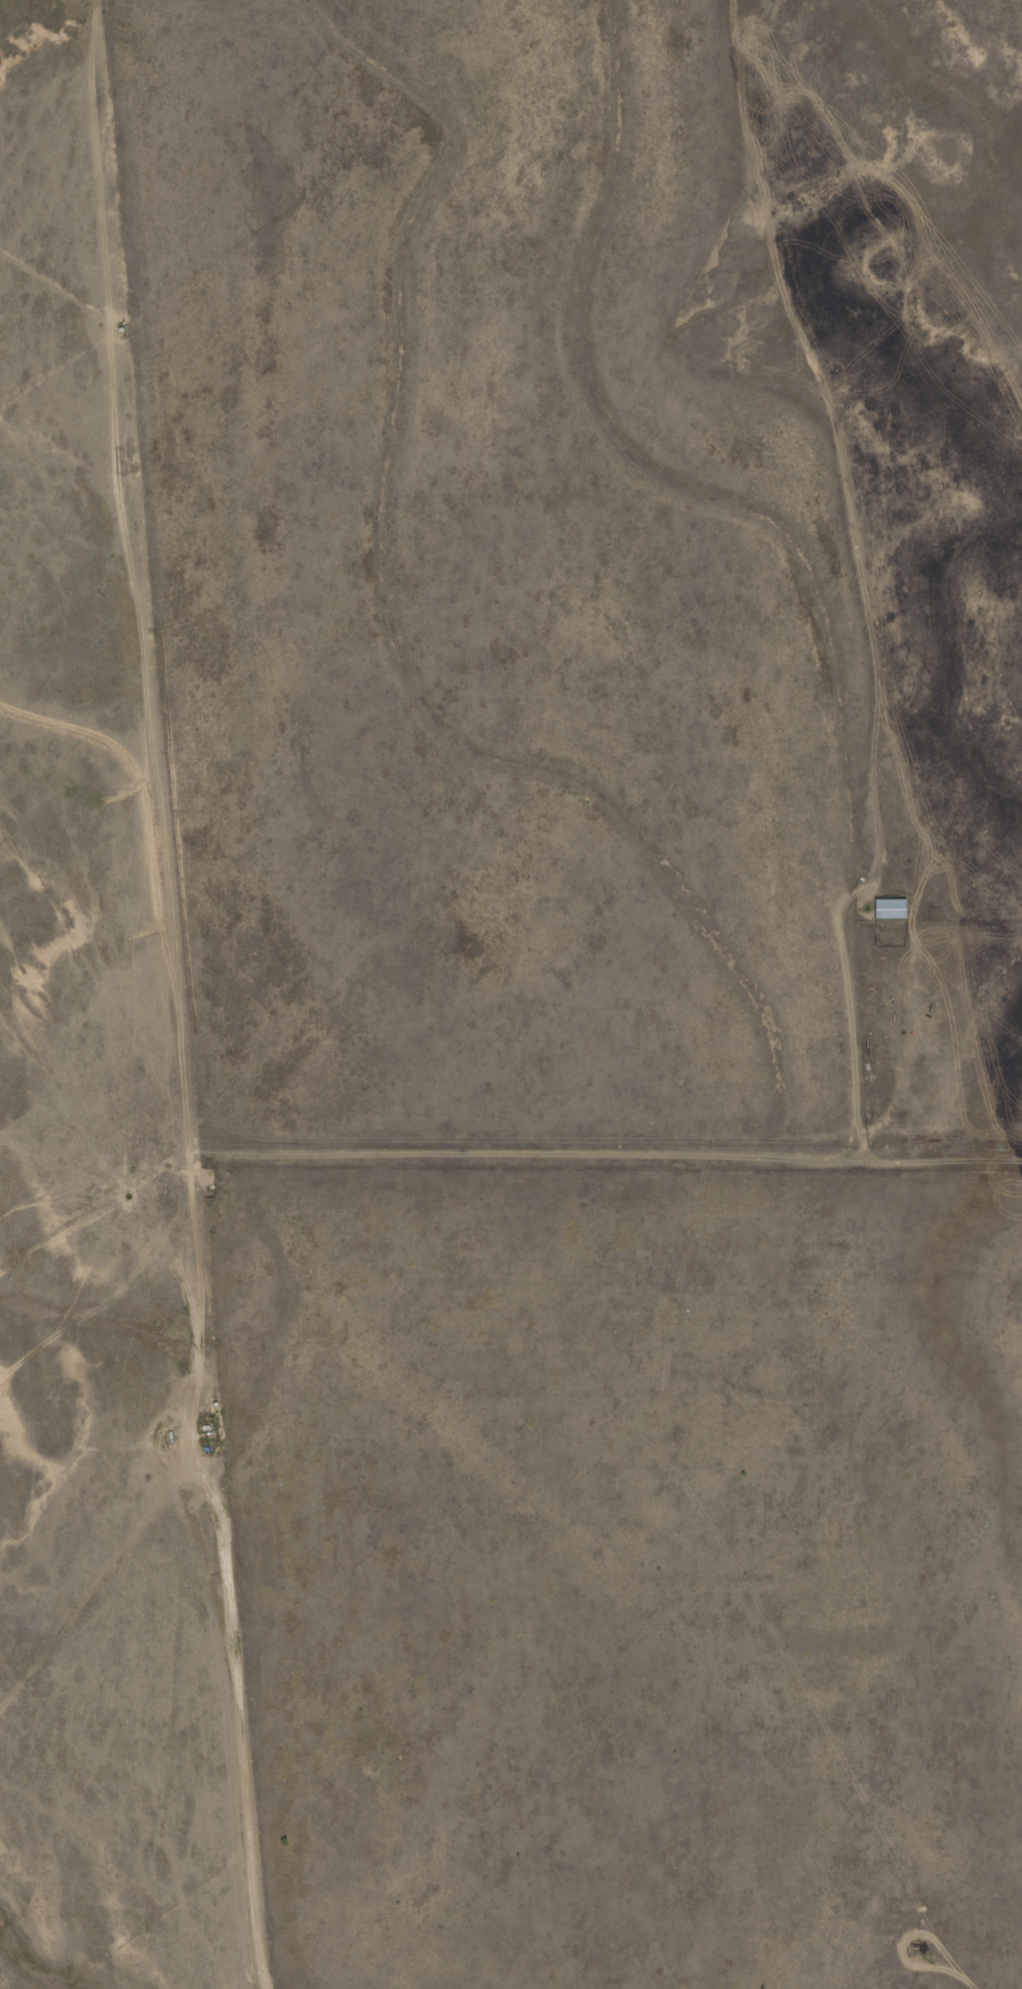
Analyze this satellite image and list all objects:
building: (895, 908)

